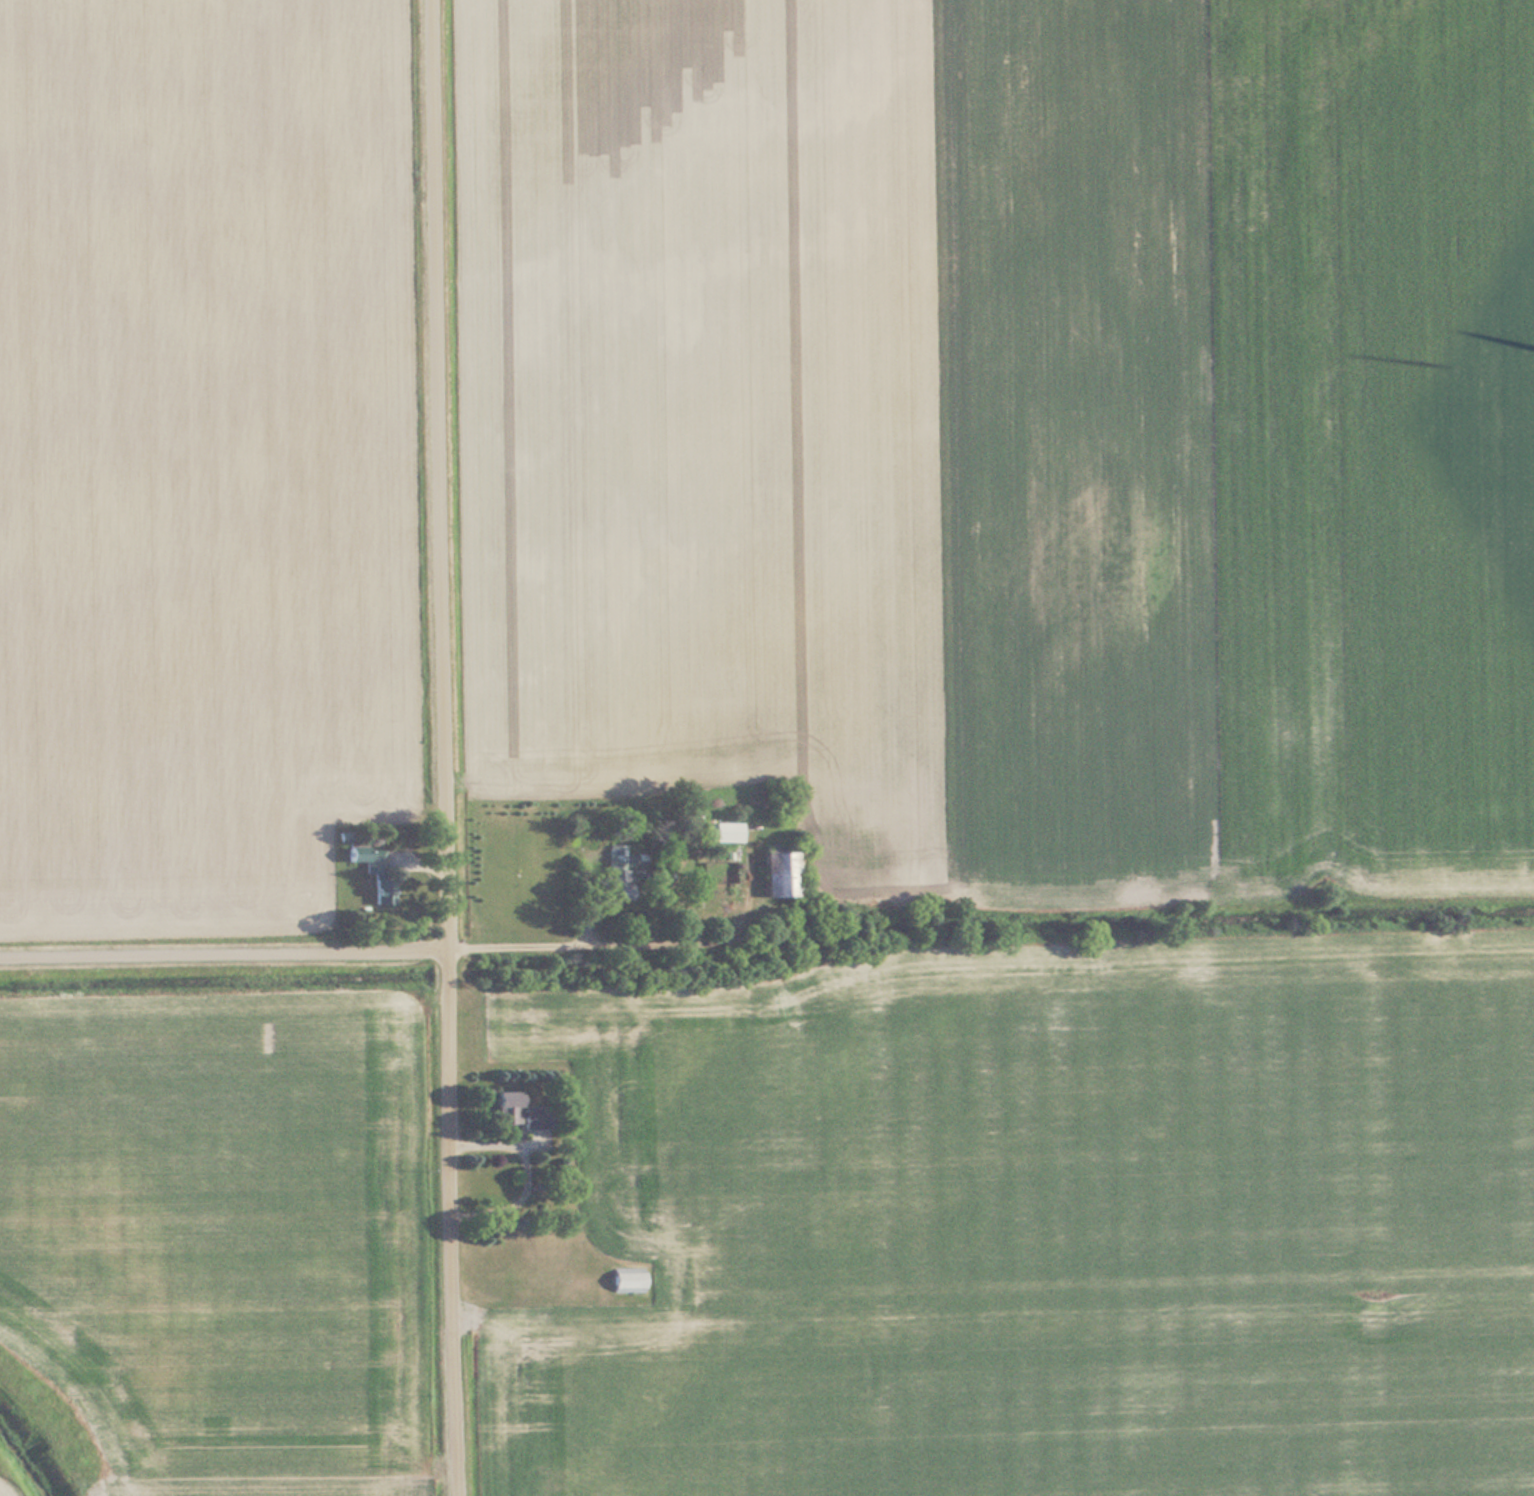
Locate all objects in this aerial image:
road: (449, 747)
building: (725, 831)
building: (363, 857)
building: (620, 870)
building: (778, 873)
building: (380, 890)
road: (368, 945)
building: (504, 1107)
building: (533, 1116)
building: (626, 1279)

